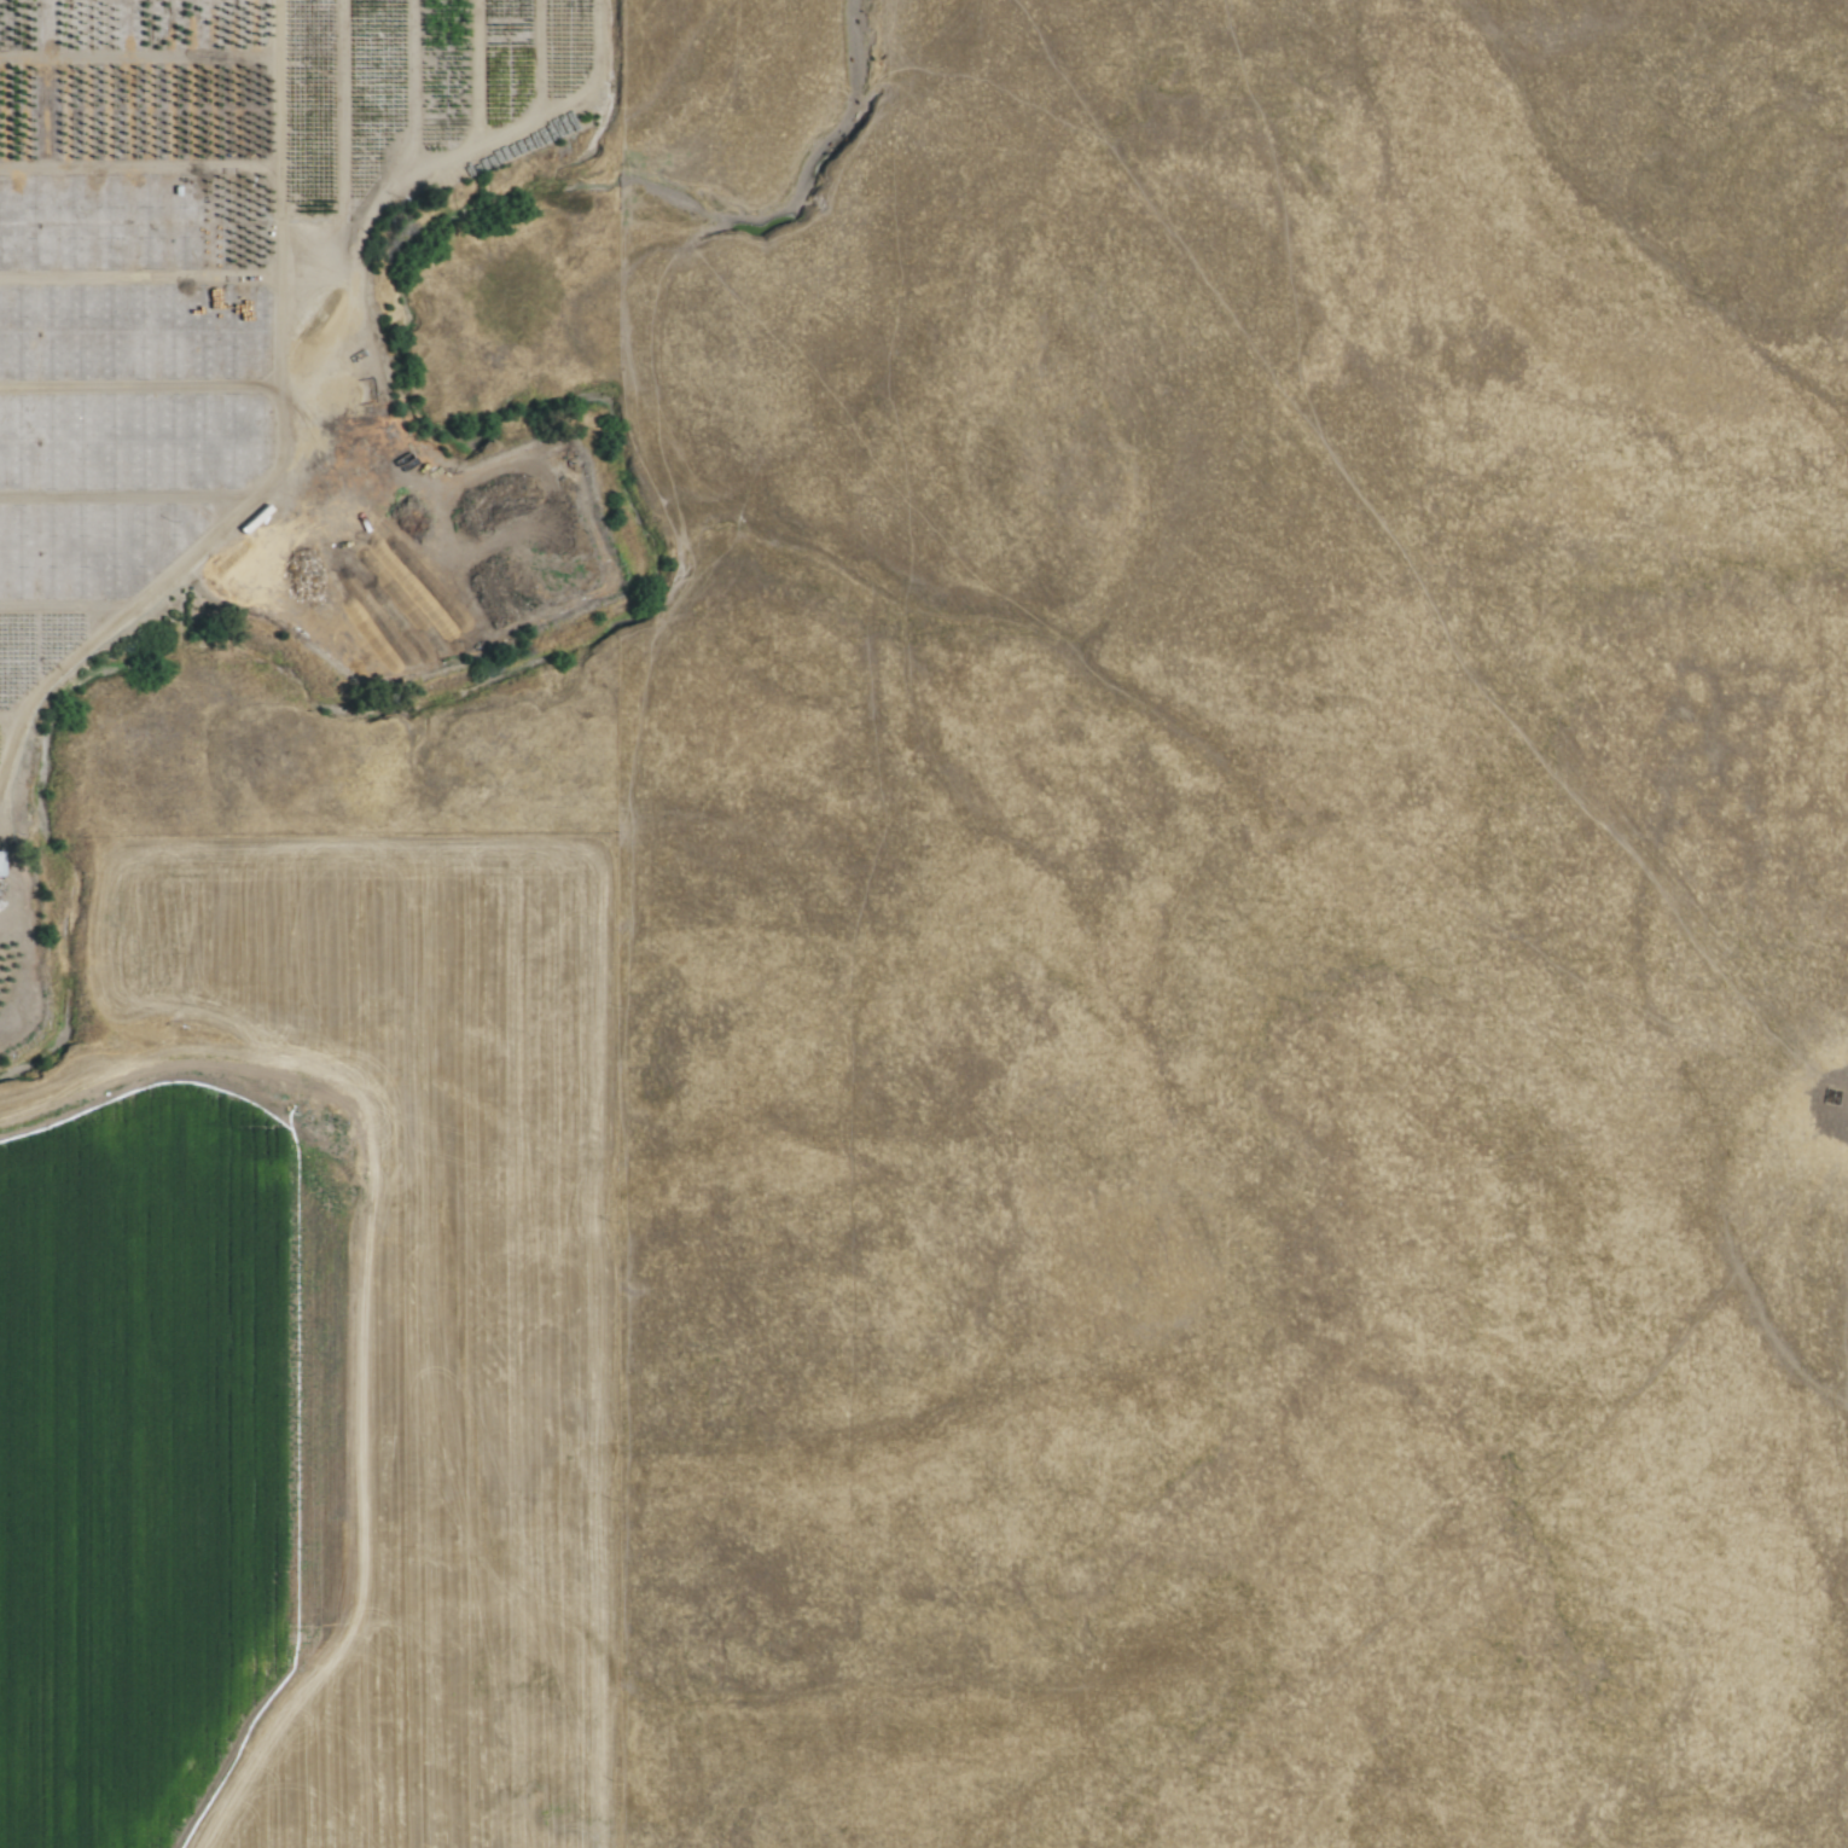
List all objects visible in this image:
road: (283, 444)
building: (0, 865)

